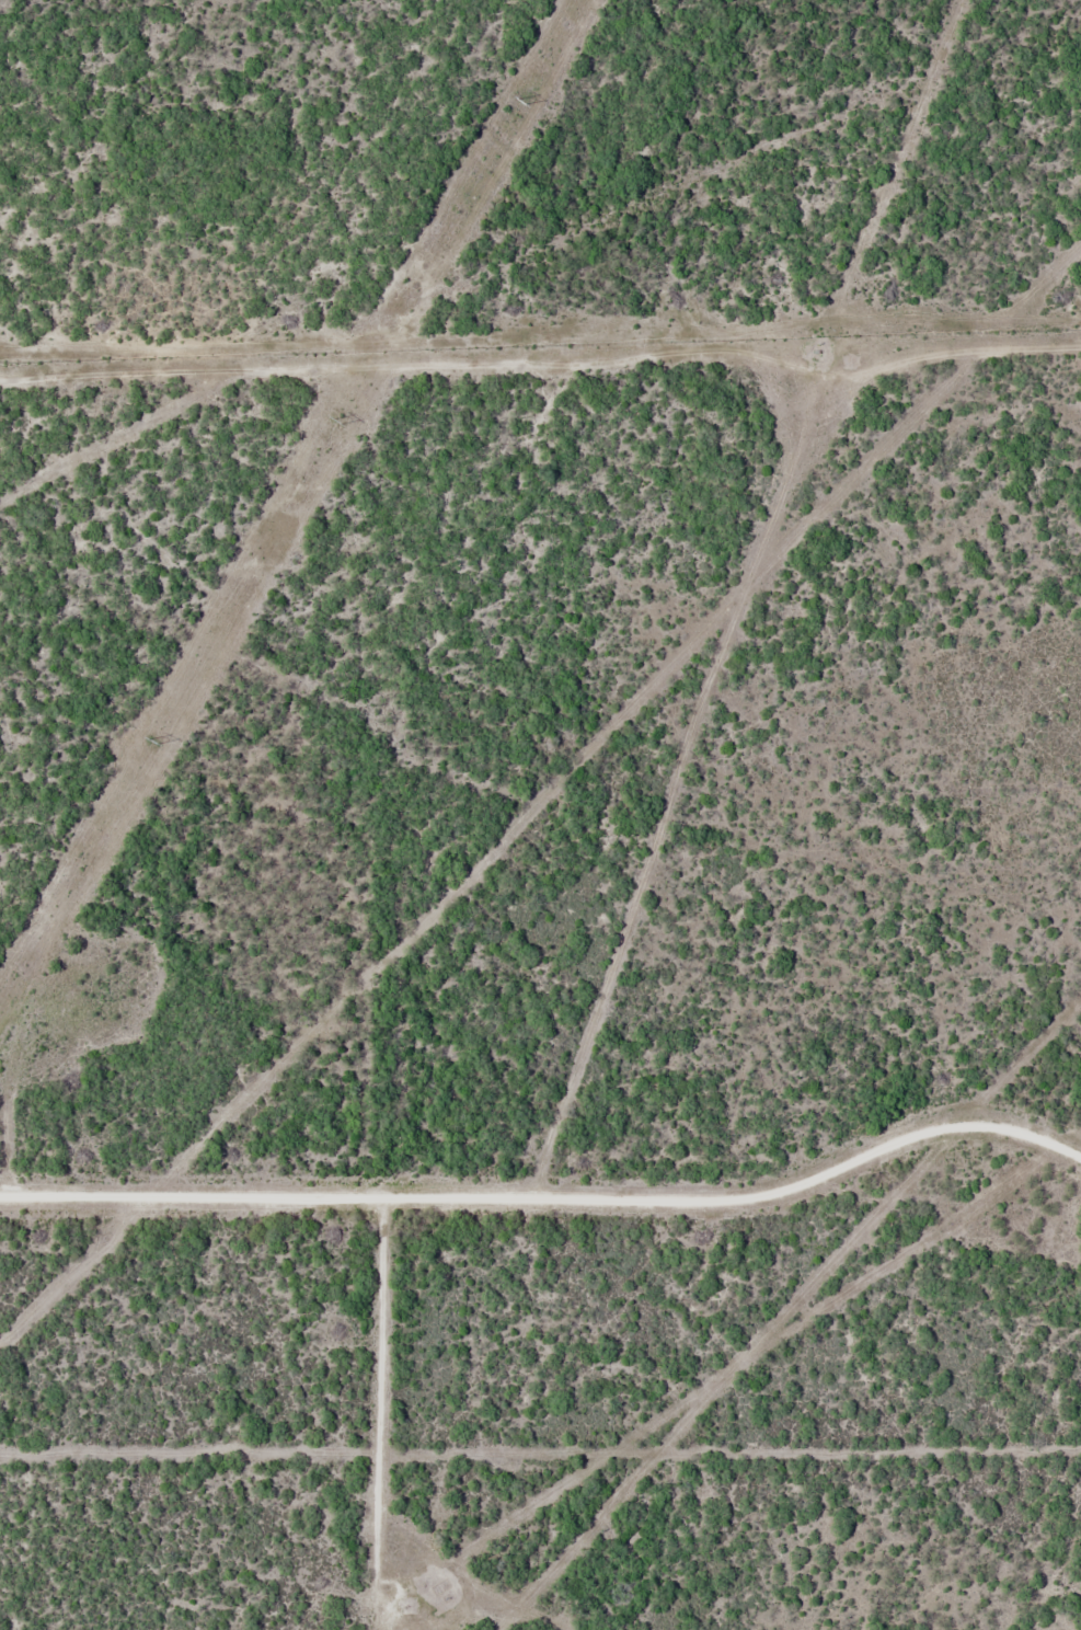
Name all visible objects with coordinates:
power tower: (522, 99)
power tower: (337, 418)
power tower: (152, 739)
road: (542, 1158)
road: (371, 1358)

